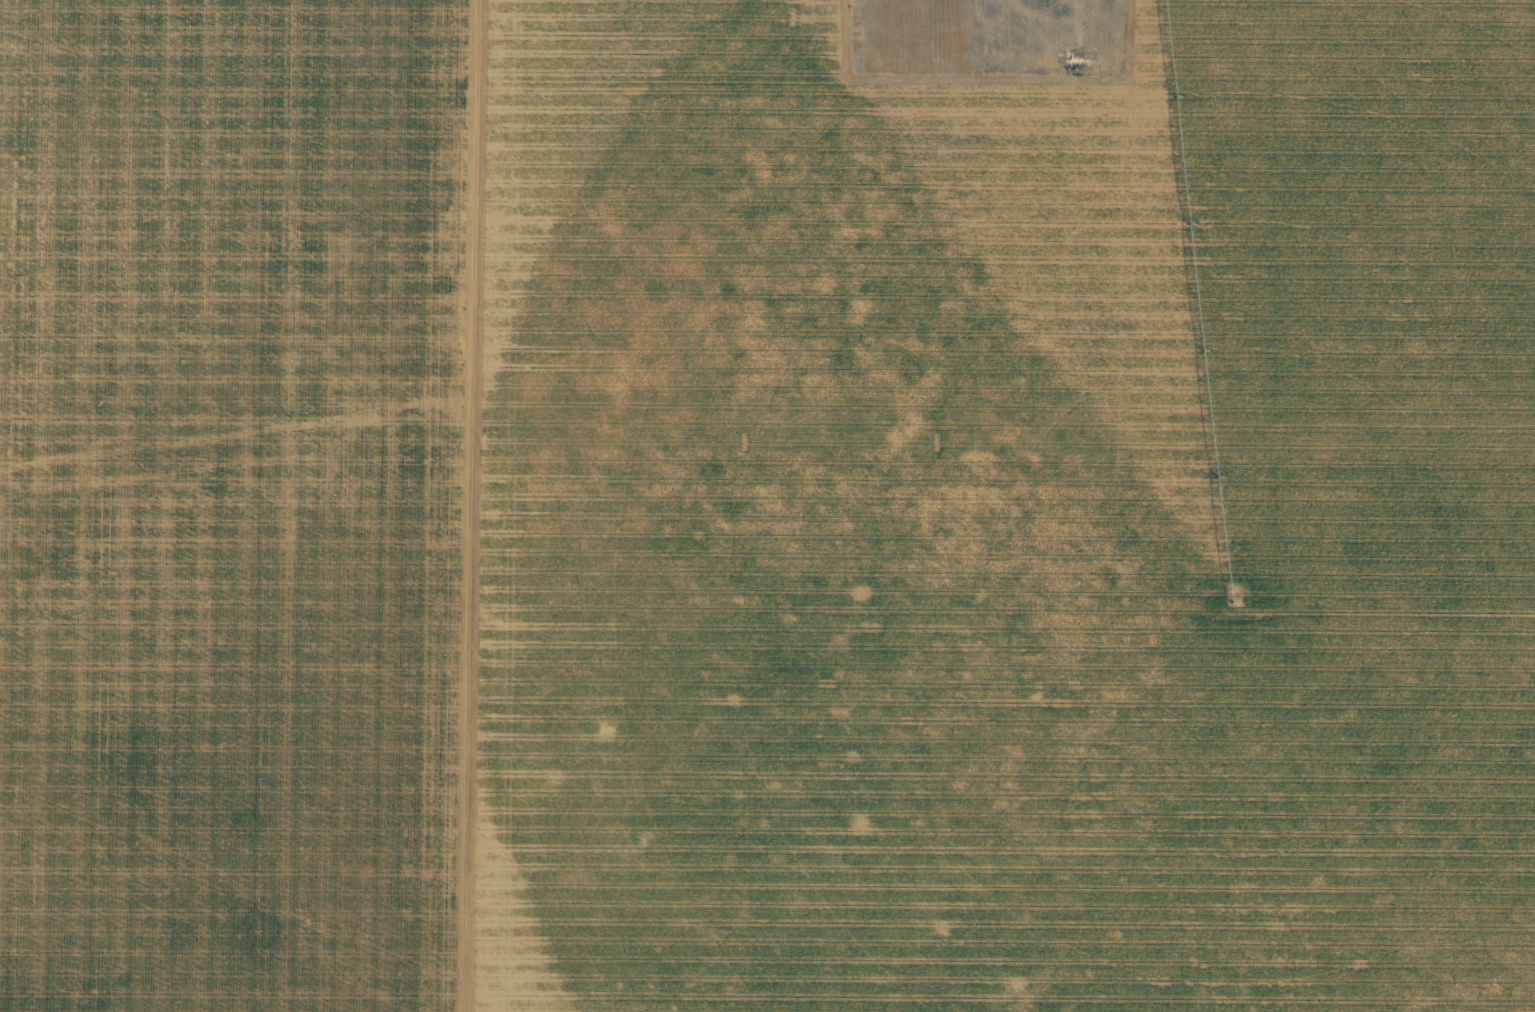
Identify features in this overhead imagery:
road: (492, 506)

